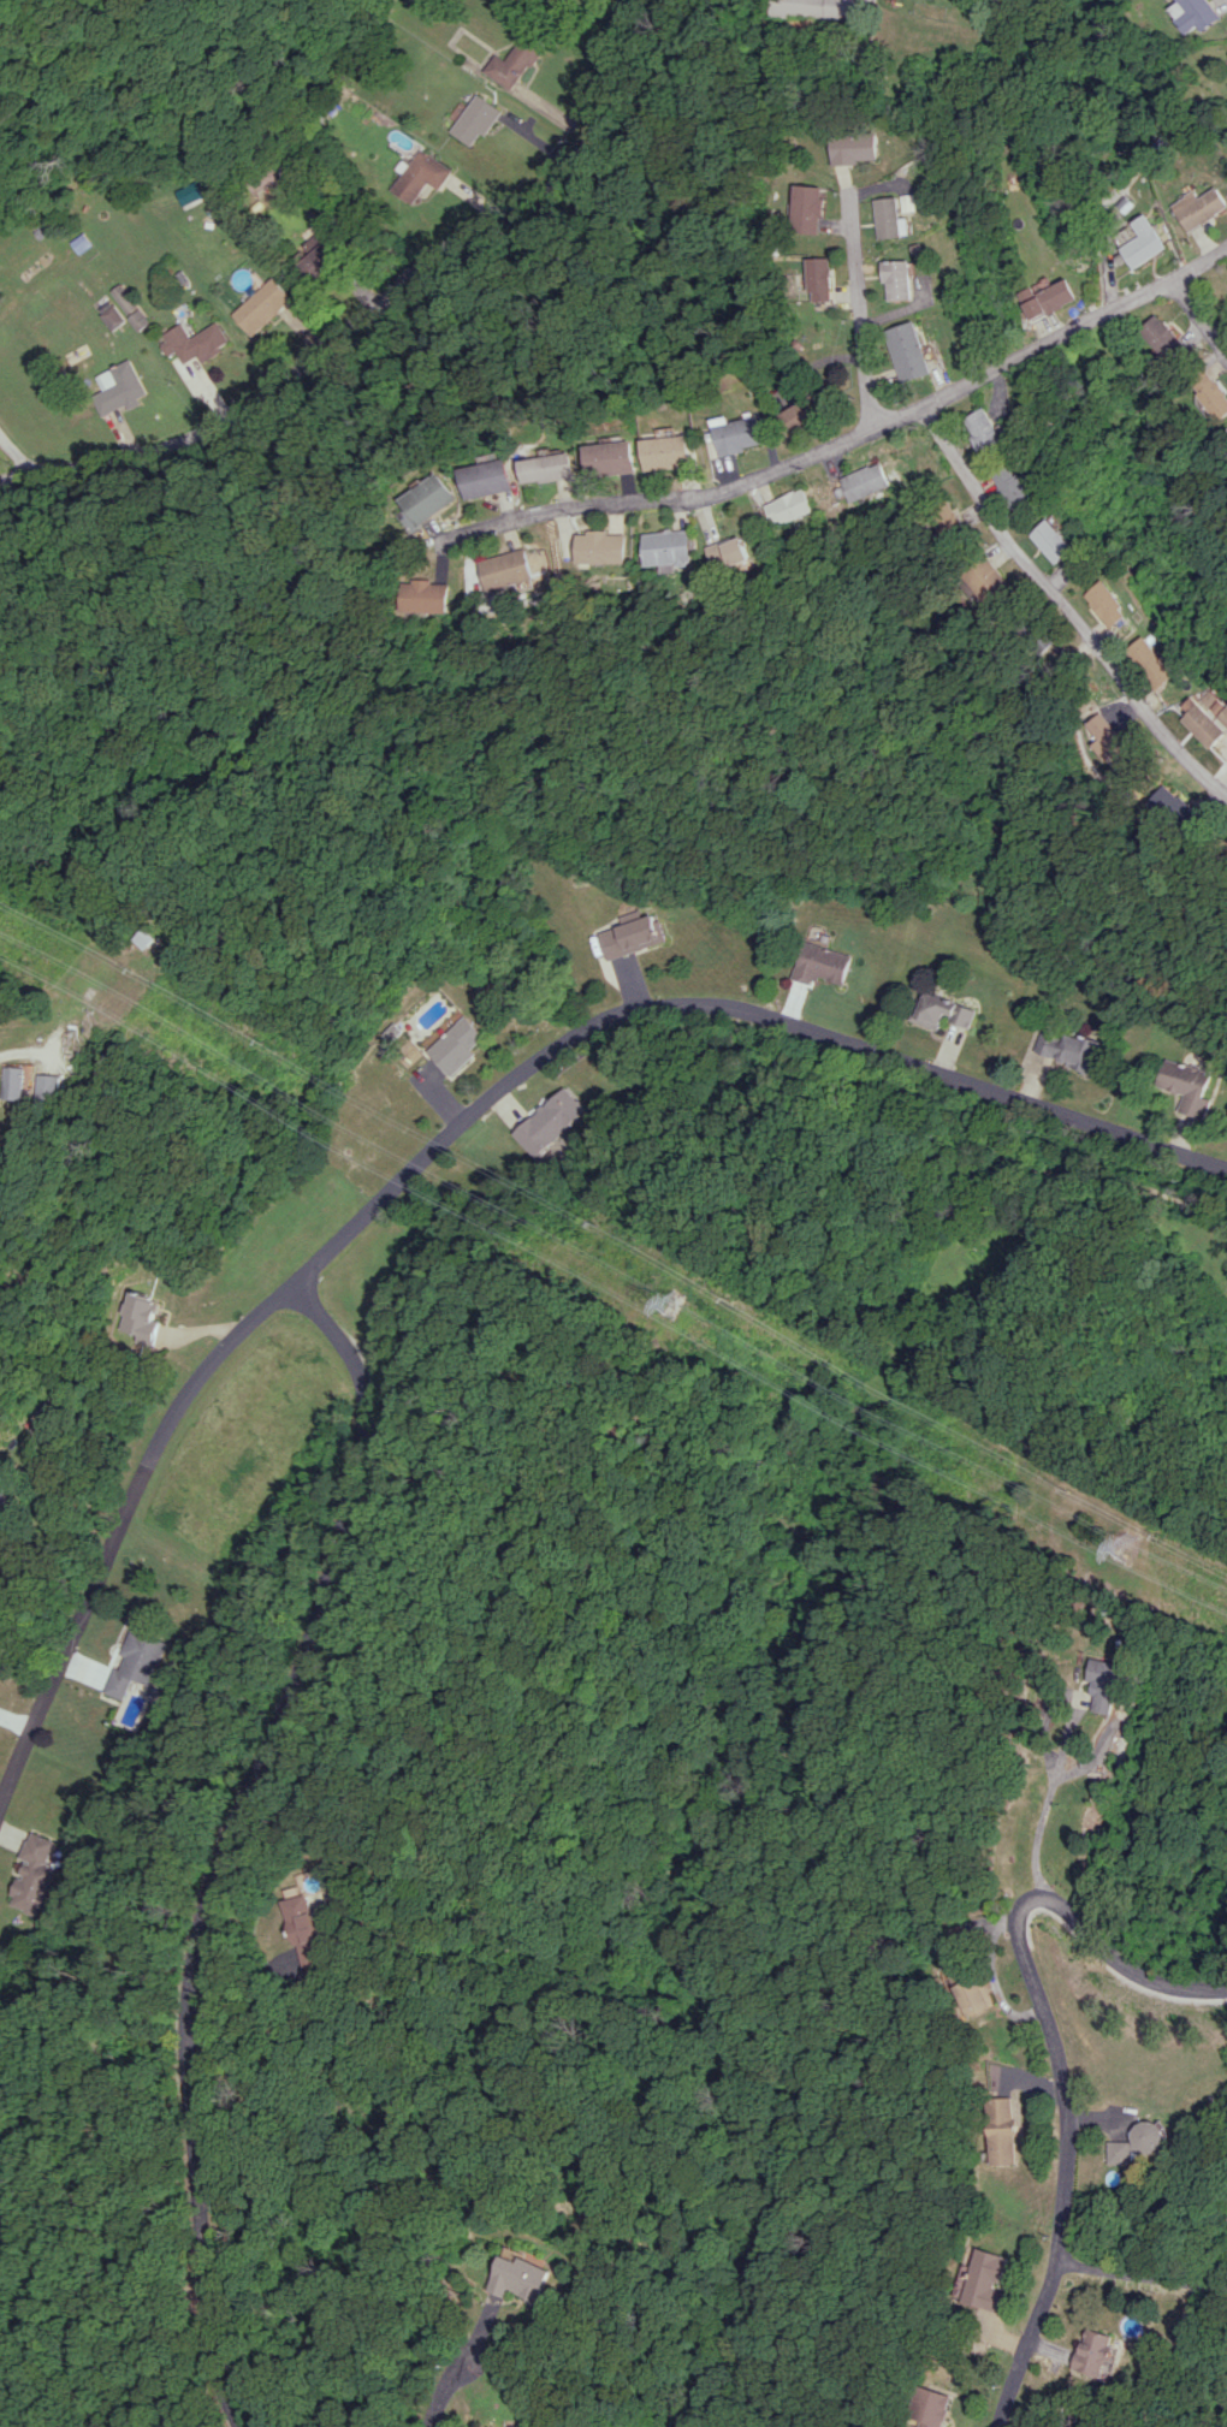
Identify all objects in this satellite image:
building: (556, 0)
building: (419, 1)
building: (820, 8)
building: (514, 61)
building: (474, 120)
building: (856, 149)
building: (420, 177)
building: (1202, 208)
building: (807, 209)
building: (896, 215)
building: (1146, 243)
building: (324, 257)
building: (820, 279)
building: (901, 280)
building: (128, 298)
building: (1050, 298)
building: (266, 307)
road: (369, 307)
road: (1201, 311)
road: (860, 314)
building: (115, 316)
building: (142, 320)
building: (1164, 337)
building: (198, 342)
building: (911, 351)
building: (123, 388)
building: (1213, 394)
building: (805, 407)
building: (985, 431)
building: (735, 435)
road: (850, 438)
road: (17, 450)
building: (666, 452)
building: (611, 458)
building: (547, 468)
building: (486, 479)
building: (869, 482)
building: (1014, 487)
building: (425, 502)
building: (788, 508)
building: (950, 520)
building: (1055, 541)
building: (601, 547)
building: (668, 548)
building: (731, 556)
building: (505, 569)
building: (989, 583)
building: (422, 597)
building: (1112, 604)
road: (1067, 606)
building: (1158, 663)
building: (1210, 717)
building: (1114, 740)
building: (1175, 808)
building: (632, 934)
building: (819, 965)
building: (941, 1011)
building: (460, 1046)
building: (1067, 1050)
road: (25, 1052)
building: (25, 1082)
building: (1184, 1086)
building: (57, 1088)
building: (551, 1121)
road: (456, 1123)
power tower: (681, 1306)
building: (147, 1318)
power tower: (1131, 1550)
road: (32, 1632)
building: (135, 1662)
building: (1110, 1685)
road: (1048, 1809)
road: (231, 1835)
building: (30, 1875)
building: (303, 1930)
road: (262, 1996)
road: (1061, 2049)
building: (1004, 2131)
building: (1143, 2143)
road: (1144, 2273)
building: (524, 2279)
building: (988, 2280)
building: (1103, 2354)
road: (440, 2390)
building: (935, 2408)

